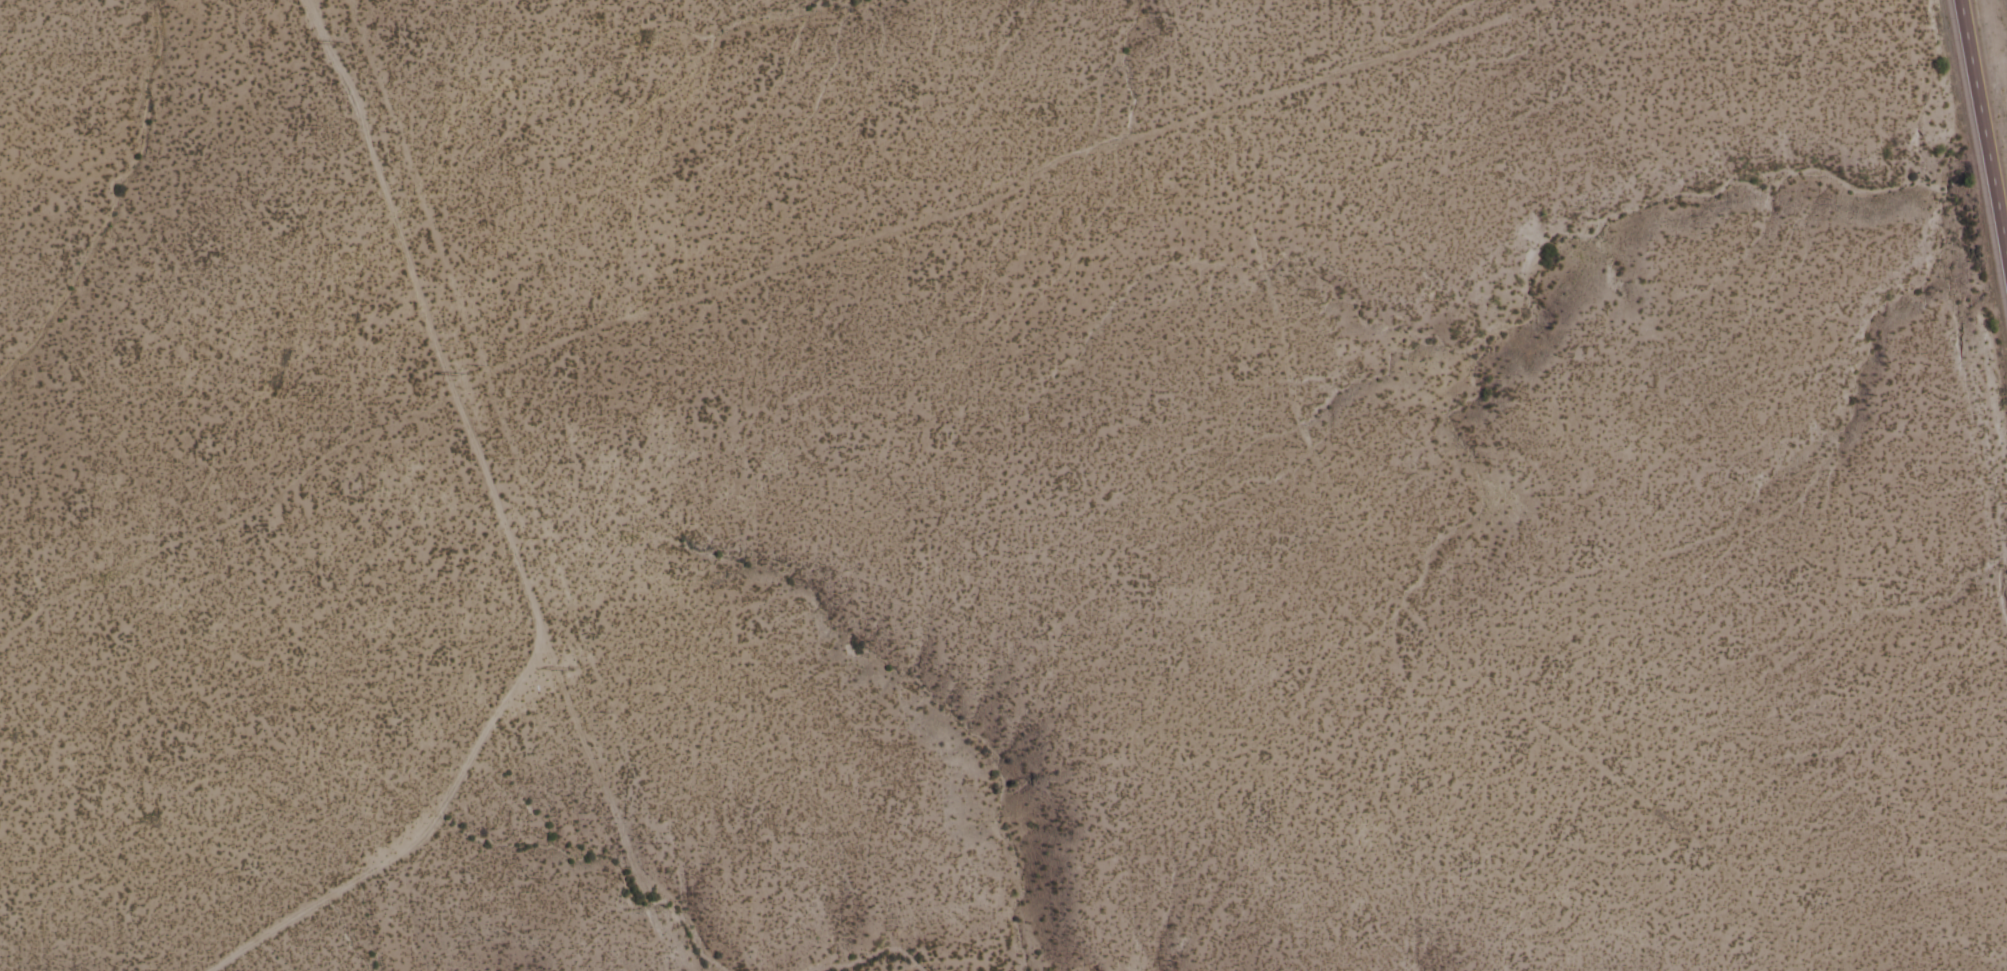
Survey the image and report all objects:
road: (1981, 140)

